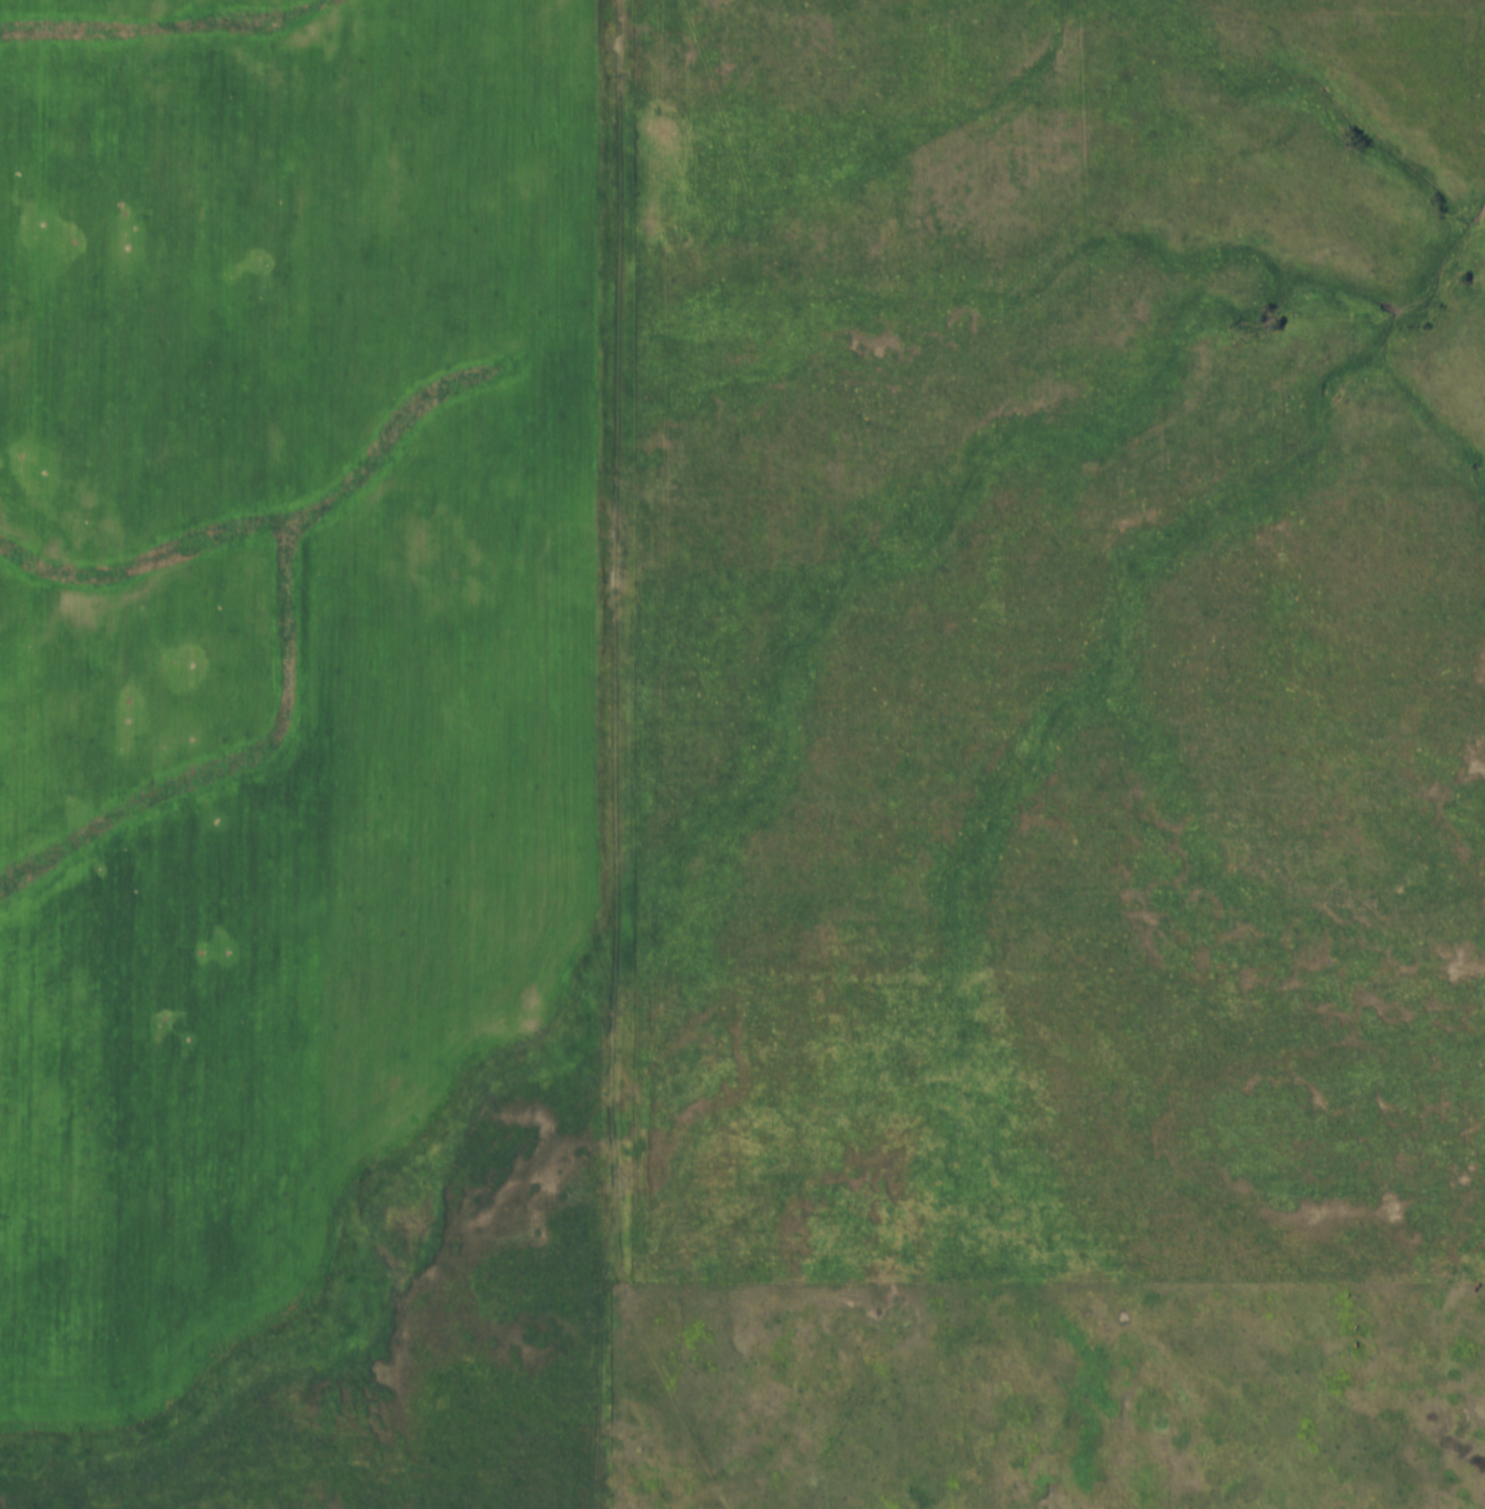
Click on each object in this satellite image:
road: (628, 754)

